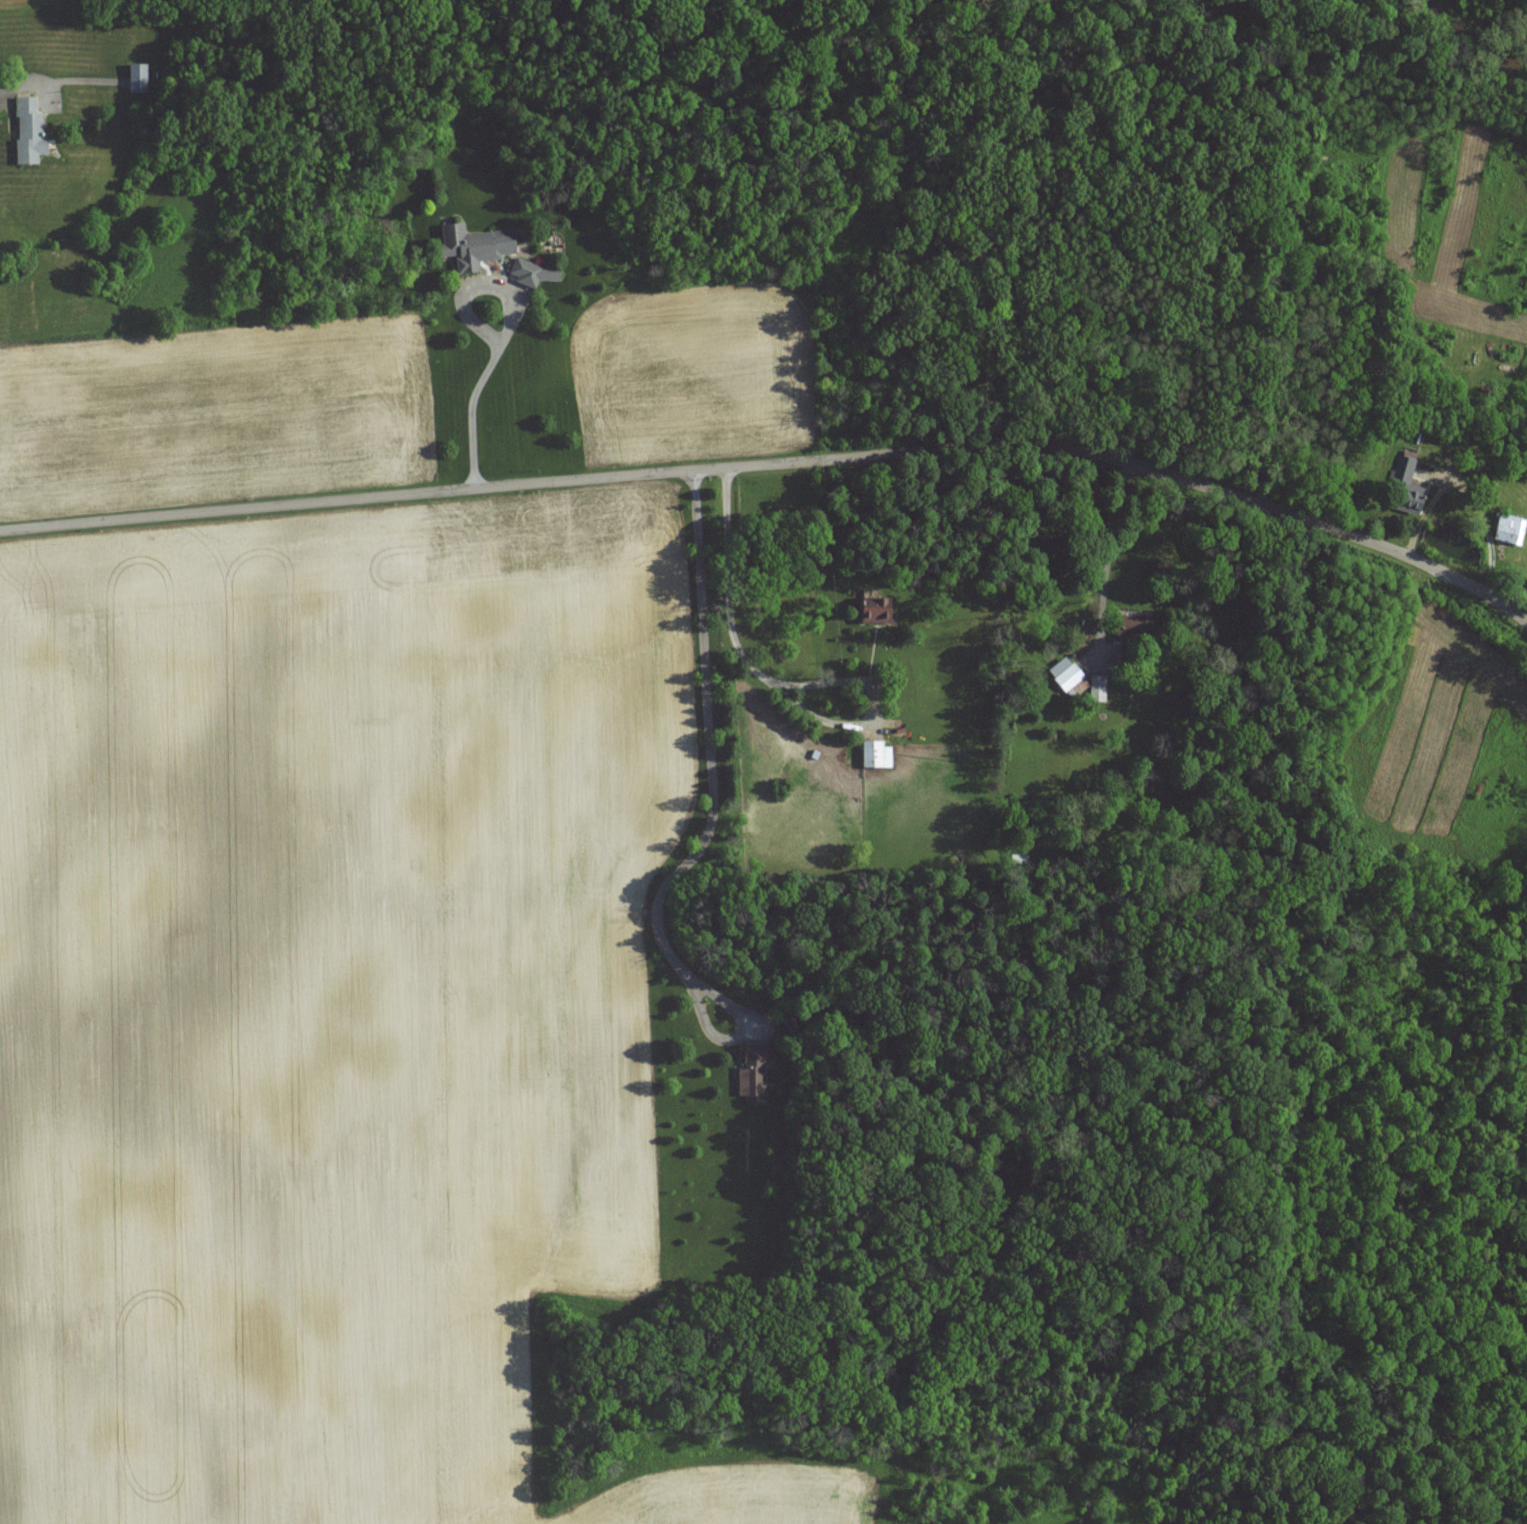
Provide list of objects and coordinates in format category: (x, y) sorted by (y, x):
building: (141, 78)
road: (23, 84)
building: (33, 132)
building: (480, 247)
building: (539, 274)
road: (486, 388)
road: (779, 462)
building: (1408, 468)
building: (1420, 500)
building: (1514, 529)
road: (1106, 564)
building: (882, 612)
building: (1140, 625)
building: (1068, 674)
road: (778, 682)
building: (1102, 688)
building: (881, 754)
road: (712, 819)
building: (757, 1074)

